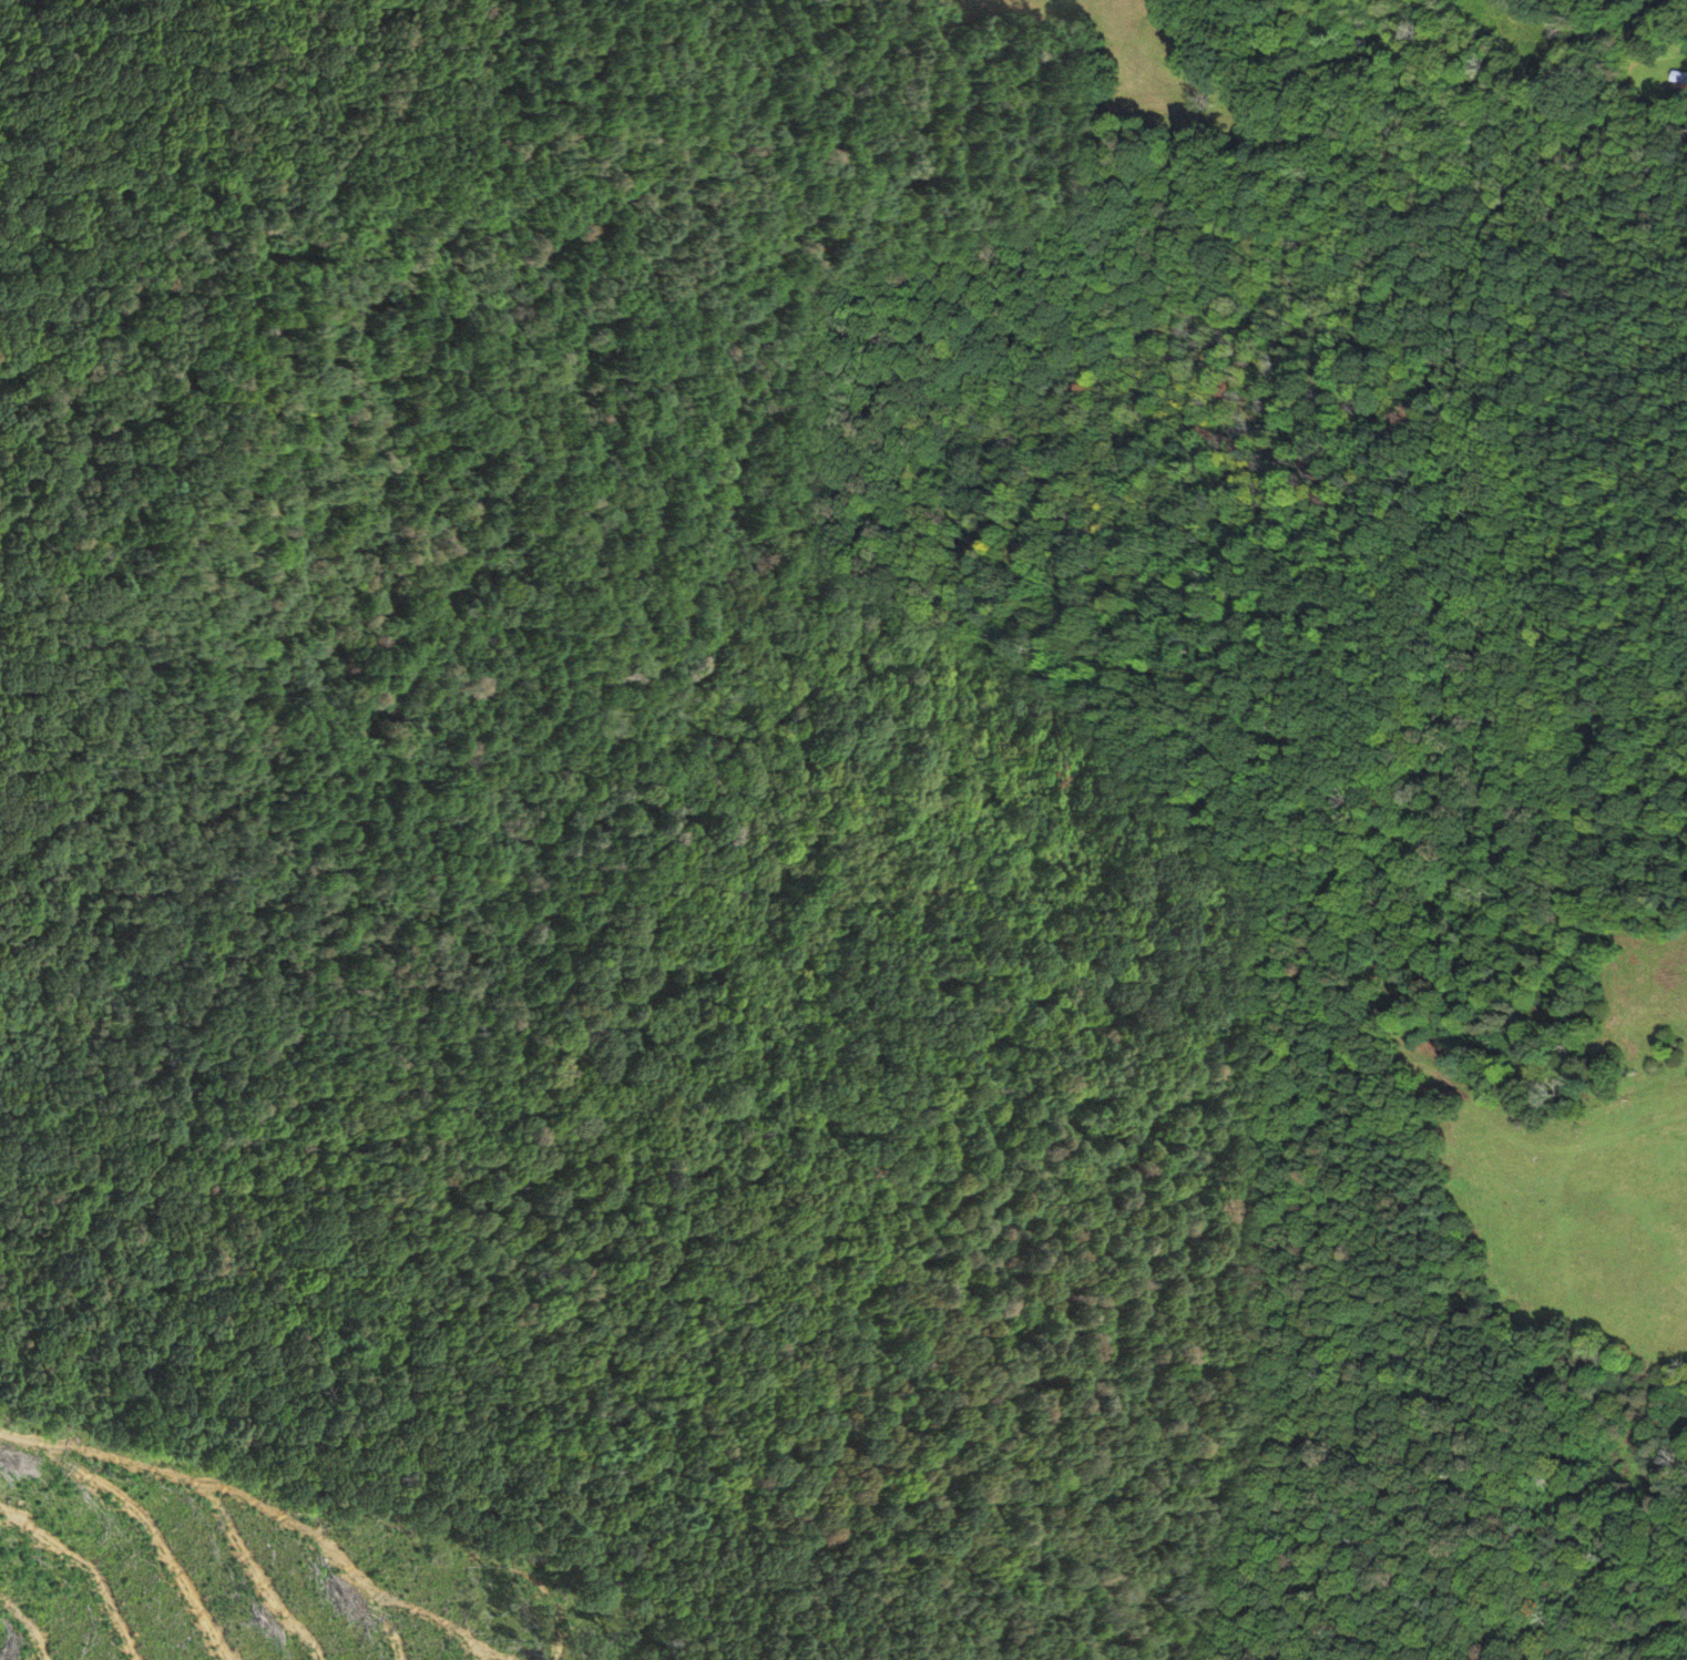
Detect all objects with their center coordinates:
building: (1683, 75)

